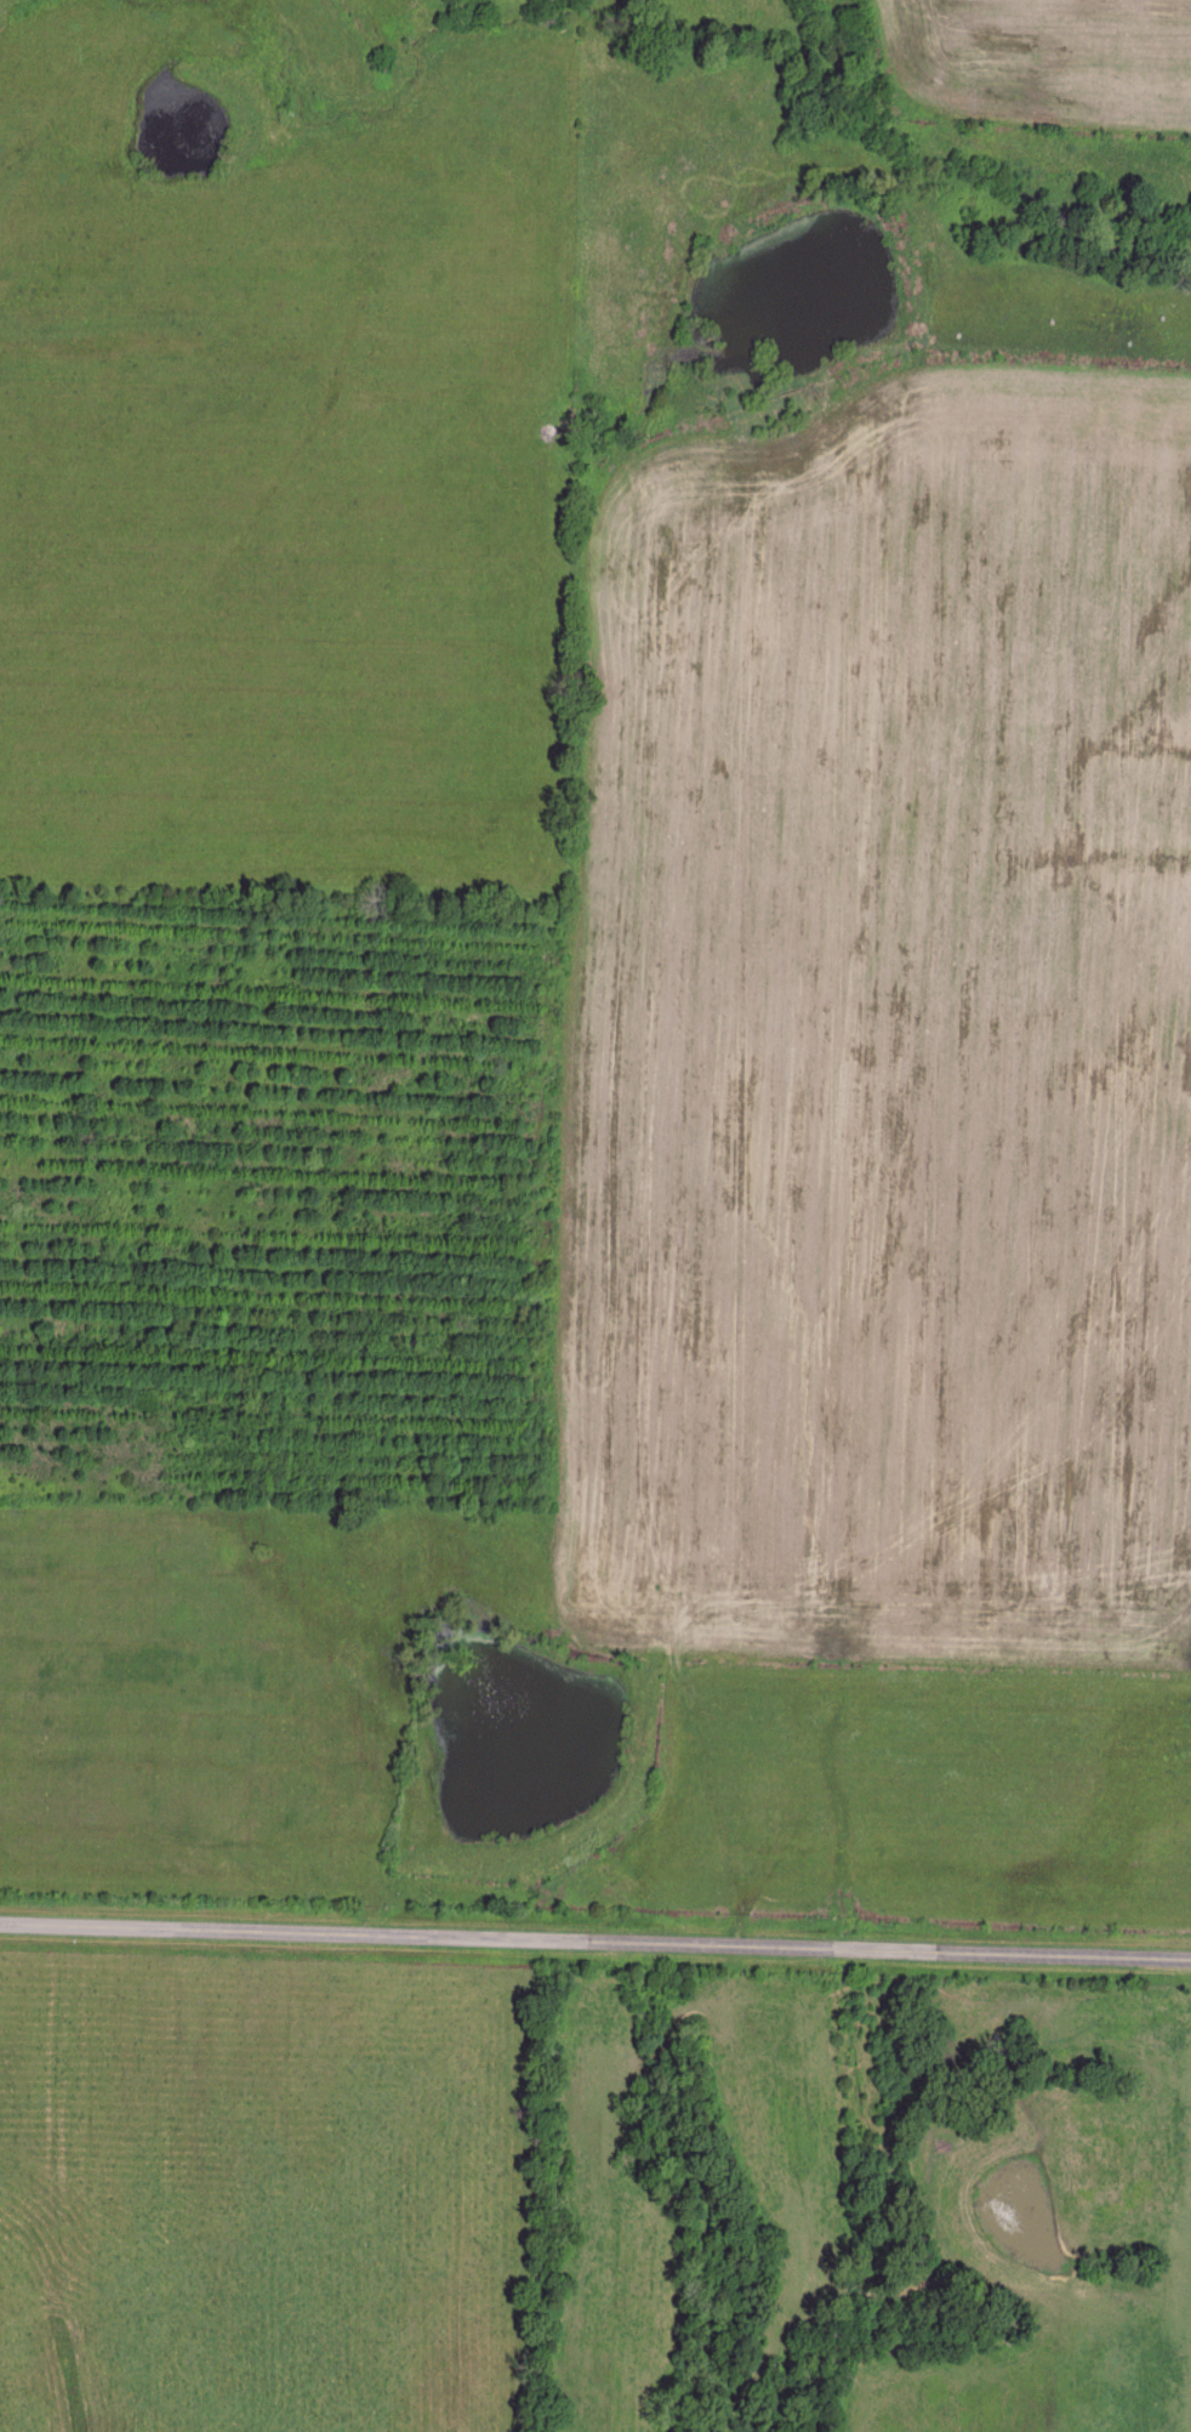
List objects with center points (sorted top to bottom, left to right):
road: (594, 1947)

